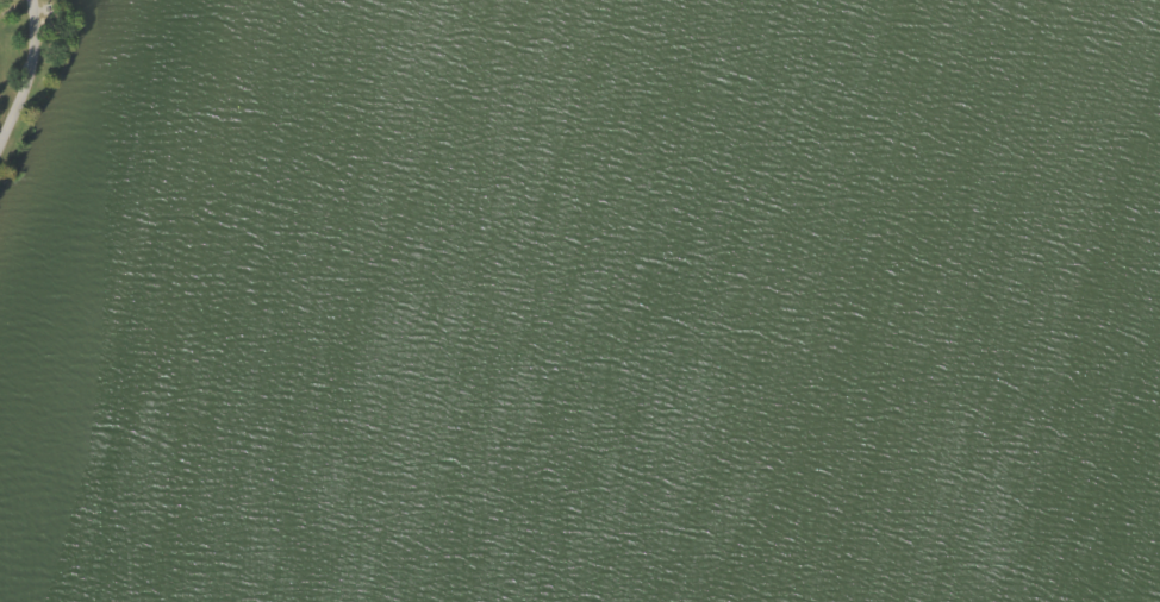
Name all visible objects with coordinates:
road: (27, 73)
park: (580, 301)

